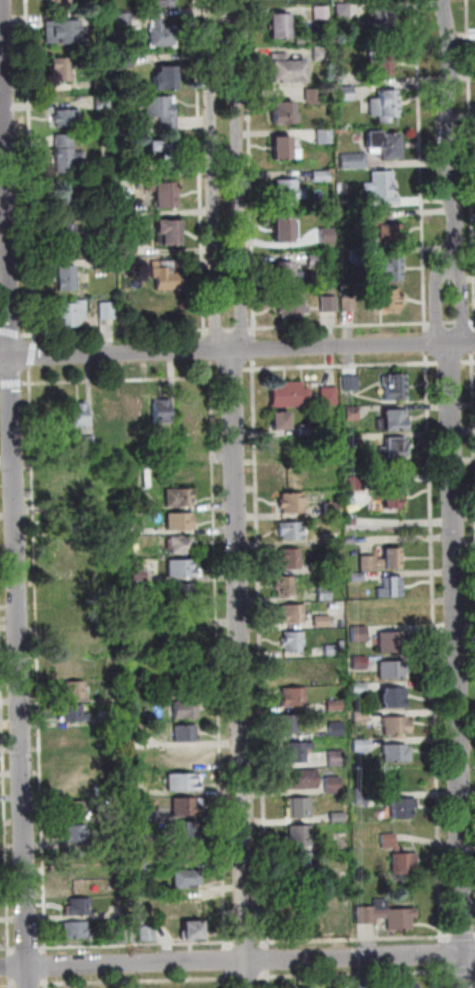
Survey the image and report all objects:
building: (64, 2)
building: (165, 3)
building: (343, 11)
road: (222, 13)
building: (322, 14)
building: (124, 19)
building: (382, 19)
building: (280, 27)
building: (63, 31)
building: (162, 35)
building: (322, 55)
road: (1, 57)
building: (382, 64)
building: (63, 70)
building: (288, 71)
building: (167, 79)
building: (102, 86)
building: (346, 93)
building: (313, 97)
building: (103, 102)
building: (384, 107)
building: (161, 111)
building: (285, 115)
building: (68, 119)
road: (445, 136)
building: (324, 137)
road: (471, 140)
building: (385, 145)
building: (283, 149)
building: (166, 152)
building: (67, 154)
building: (354, 162)
road: (421, 166)
building: (127, 168)
road: (200, 168)
road: (251, 168)
road: (32, 171)
building: (322, 177)
road: (214, 185)
road: (238, 185)
building: (383, 189)
building: (288, 192)
building: (164, 194)
building: (64, 202)
building: (128, 211)
building: (284, 231)
building: (170, 233)
building: (328, 236)
building: (390, 236)
building: (68, 239)
building: (129, 249)
building: (358, 257)
building: (317, 260)
building: (103, 265)
building: (391, 271)
building: (289, 274)
building: (166, 276)
building: (68, 278)
building: (385, 301)
building: (349, 305)
building: (329, 306)
road: (438, 306)
road: (462, 306)
building: (292, 307)
building: (107, 311)
building: (72, 314)
road: (451, 323)
road: (464, 323)
road: (473, 323)
road: (438, 324)
road: (340, 326)
road: (217, 329)
road: (230, 329)
road: (243, 329)
road: (0, 330)
road: (116, 331)
road: (12, 333)
road: (426, 344)
road: (461, 345)
road: (255, 348)
road: (474, 348)
road: (208, 349)
road: (223, 350)
road: (33, 355)
road: (450, 363)
road: (468, 363)
road: (342, 367)
road: (234, 374)
road: (474, 378)
road: (123, 380)
road: (1, 384)
road: (12, 384)
building: (352, 384)
building: (396, 389)
building: (290, 396)
building: (329, 397)
building: (106, 412)
building: (136, 413)
building: (162, 413)
building: (352, 415)
building: (80, 416)
building: (397, 422)
building: (281, 423)
building: (307, 431)
building: (353, 442)
building: (89, 444)
building: (395, 450)
building: (66, 475)
building: (136, 477)
building: (358, 485)
road: (14, 494)
building: (390, 496)
building: (180, 498)
building: (292, 505)
building: (332, 511)
building: (181, 523)
building: (70, 525)
building: (138, 529)
building: (292, 532)
building: (334, 541)
building: (183, 546)
building: (289, 560)
building: (383, 561)
building: (319, 568)
building: (183, 569)
building: (65, 570)
building: (140, 576)
building: (357, 578)
building: (284, 587)
building: (391, 589)
building: (185, 592)
building: (65, 593)
building: (324, 594)
building: (292, 615)
building: (70, 618)
building: (321, 622)
building: (182, 633)
building: (359, 635)
building: (70, 641)
building: (293, 643)
building: (392, 643)
building: (335, 649)
road: (434, 649)
road: (260, 654)
road: (219, 655)
road: (38, 660)
building: (359, 663)
road: (457, 666)
road: (241, 669)
building: (392, 671)
building: (360, 689)
building: (76, 690)
building: (159, 697)
building: (294, 698)
building: (394, 699)
building: (335, 706)
building: (187, 711)
building: (74, 714)
building: (360, 717)
building: (106, 718)
building: (288, 726)
building: (397, 727)
building: (336, 730)
building: (187, 733)
building: (75, 737)
building: (116, 742)
building: (359, 744)
building: (395, 750)
building: (297, 753)
building: (182, 755)
building: (336, 759)
road: (5, 771)
building: (301, 780)
building: (185, 783)
building: (333, 786)
building: (188, 807)
building: (402, 808)
building: (299, 809)
building: (75, 810)
building: (149, 815)
building: (338, 818)
building: (187, 831)
building: (76, 834)
building: (300, 836)
building: (188, 855)
building: (399, 857)
building: (149, 862)
building: (303, 865)
building: (188, 880)
building: (76, 881)
building: (81, 907)
building: (120, 914)
building: (386, 917)
building: (77, 931)
building: (195, 933)
building: (148, 934)
building: (121, 937)
road: (464, 937)
road: (356, 939)
road: (247, 943)
road: (137, 944)
road: (8, 949)
road: (28, 949)
road: (442, 954)
road: (226, 960)
road: (269, 960)
road: (237, 961)
road: (47, 966)
road: (10, 967)
road: (465, 972)
road: (356, 974)
road: (443, 977)
road: (226, 979)
road: (248, 979)
road: (269, 979)
road: (139, 982)
road: (10, 983)
road: (48, 983)
building: (366, 984)
road: (29, 985)
building: (402, 985)
road: (8, 986)
building: (299, 987)

